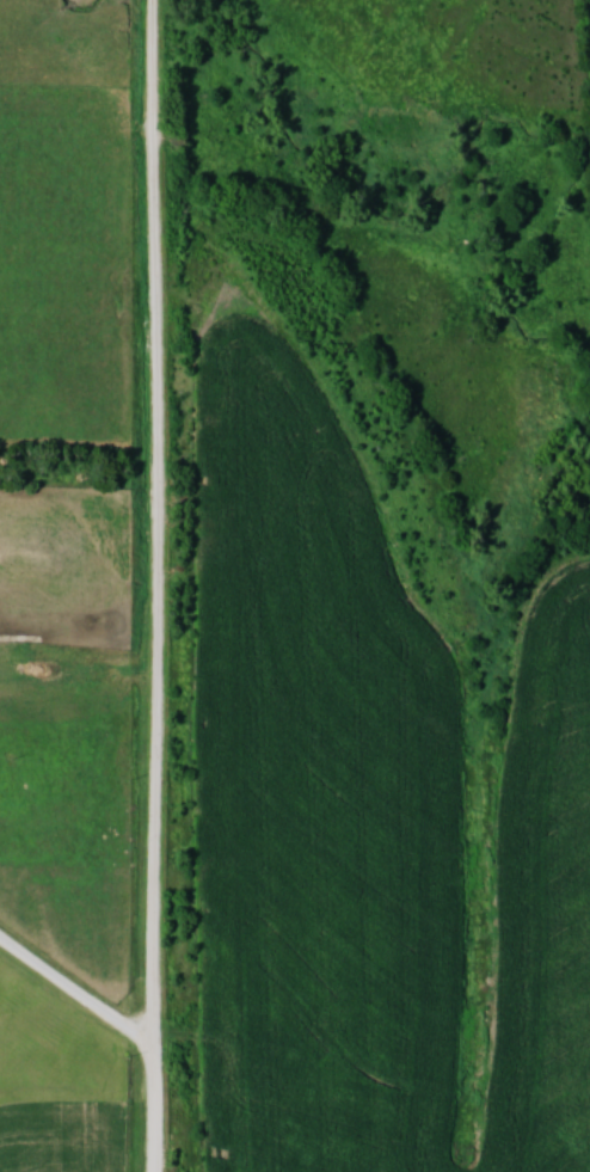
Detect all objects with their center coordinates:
road: (161, 585)
road: (76, 994)

